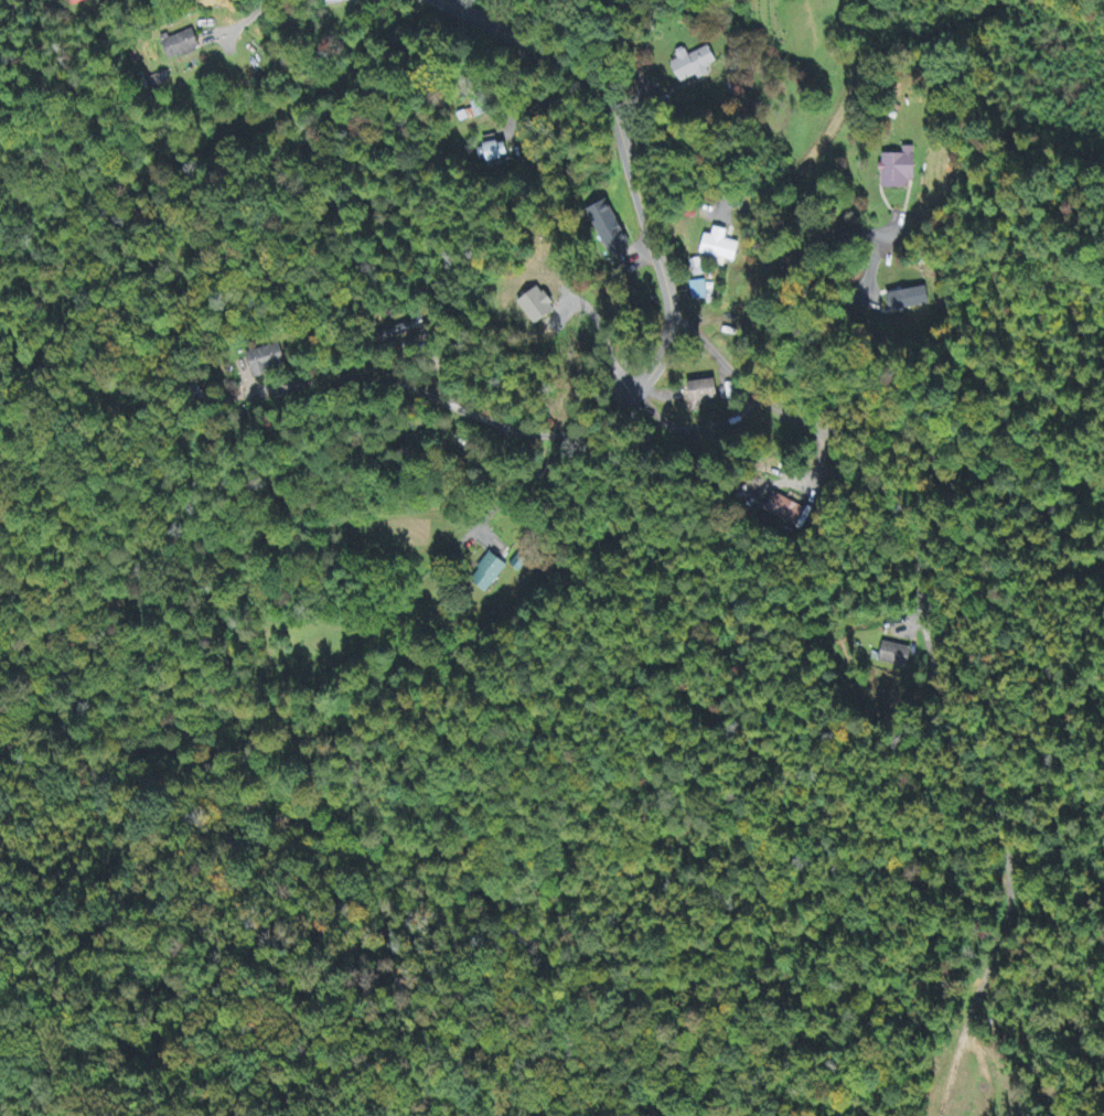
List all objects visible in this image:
building: (82, 2)
building: (182, 46)
building: (695, 65)
building: (493, 153)
road: (630, 160)
building: (893, 170)
building: (611, 229)
building: (721, 248)
building: (698, 292)
building: (907, 301)
building: (540, 309)
building: (409, 329)
building: (266, 362)
building: (705, 393)
building: (786, 511)
building: (490, 573)
building: (891, 655)

